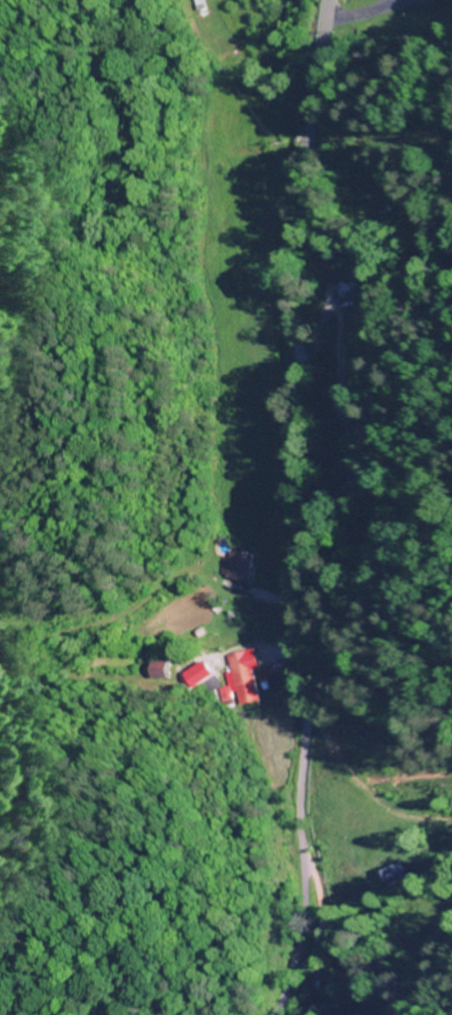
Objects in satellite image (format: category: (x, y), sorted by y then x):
building: (193, 5)
building: (347, 474)
road: (294, 507)
building: (234, 566)
building: (156, 669)
building: (196, 674)
building: (238, 677)
building: (393, 874)
building: (344, 1014)

